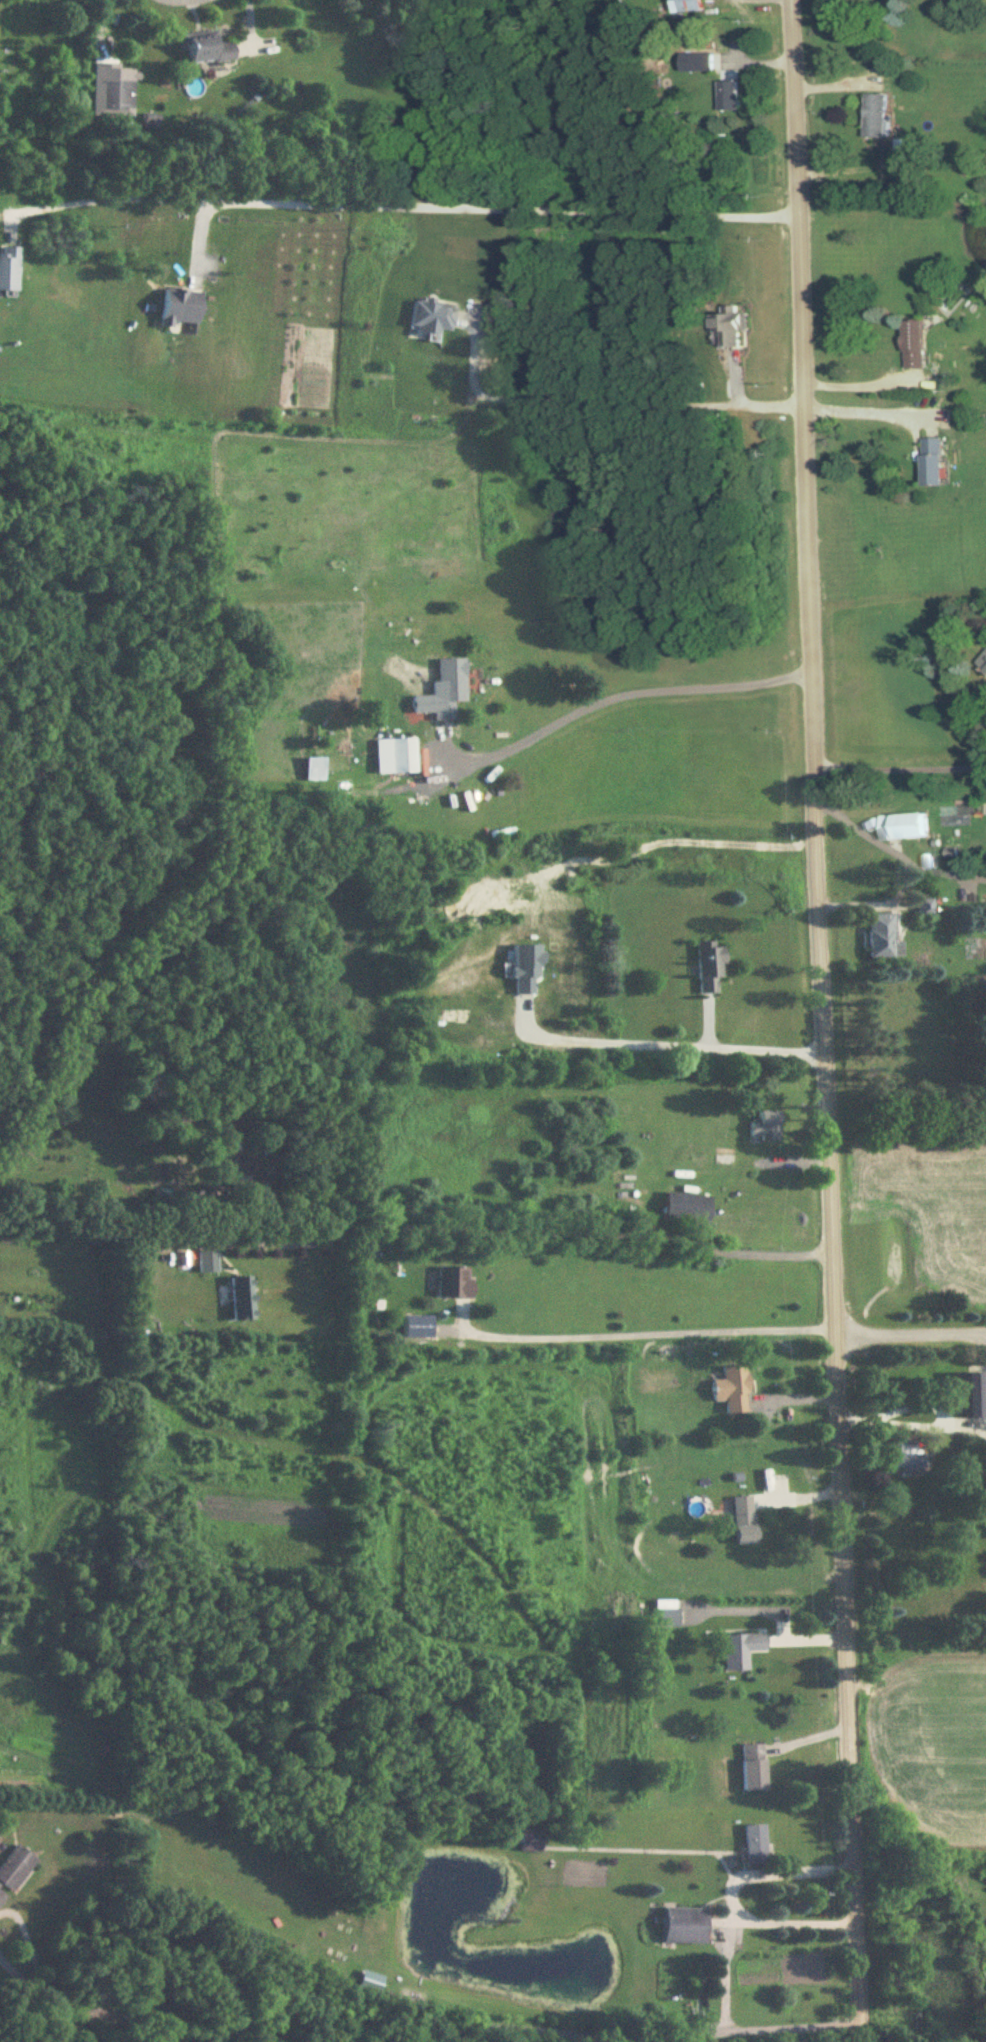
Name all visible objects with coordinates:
road: (182, 0)
building: (694, 6)
building: (206, 49)
building: (706, 62)
building: (118, 96)
building: (732, 96)
building: (879, 116)
road: (401, 206)
building: (9, 270)
building: (181, 309)
building: (434, 319)
building: (733, 326)
building: (919, 345)
road: (606, 403)
road: (862, 408)
building: (937, 463)
building: (985, 665)
building: (445, 691)
road: (604, 692)
building: (402, 756)
road: (898, 769)
building: (906, 826)
building: (884, 937)
building: (709, 966)
road: (819, 1021)
road: (745, 1050)
building: (765, 1127)
building: (232, 1155)
building: (688, 1209)
road: (533, 1229)
building: (208, 1263)
building: (455, 1283)
building: (243, 1299)
road: (639, 1337)
building: (733, 1389)
building: (971, 1395)
building: (905, 1457)
building: (744, 1520)
building: (664, 1619)
building: (741, 1651)
building: (753, 1768)
building: (530, 1841)
building: (756, 1845)
building: (14, 1871)
road: (734, 1899)
building: (685, 1926)
road: (31, 1949)
building: (371, 1981)
road: (21, 1982)
road: (385, 2028)
road: (734, 2030)

